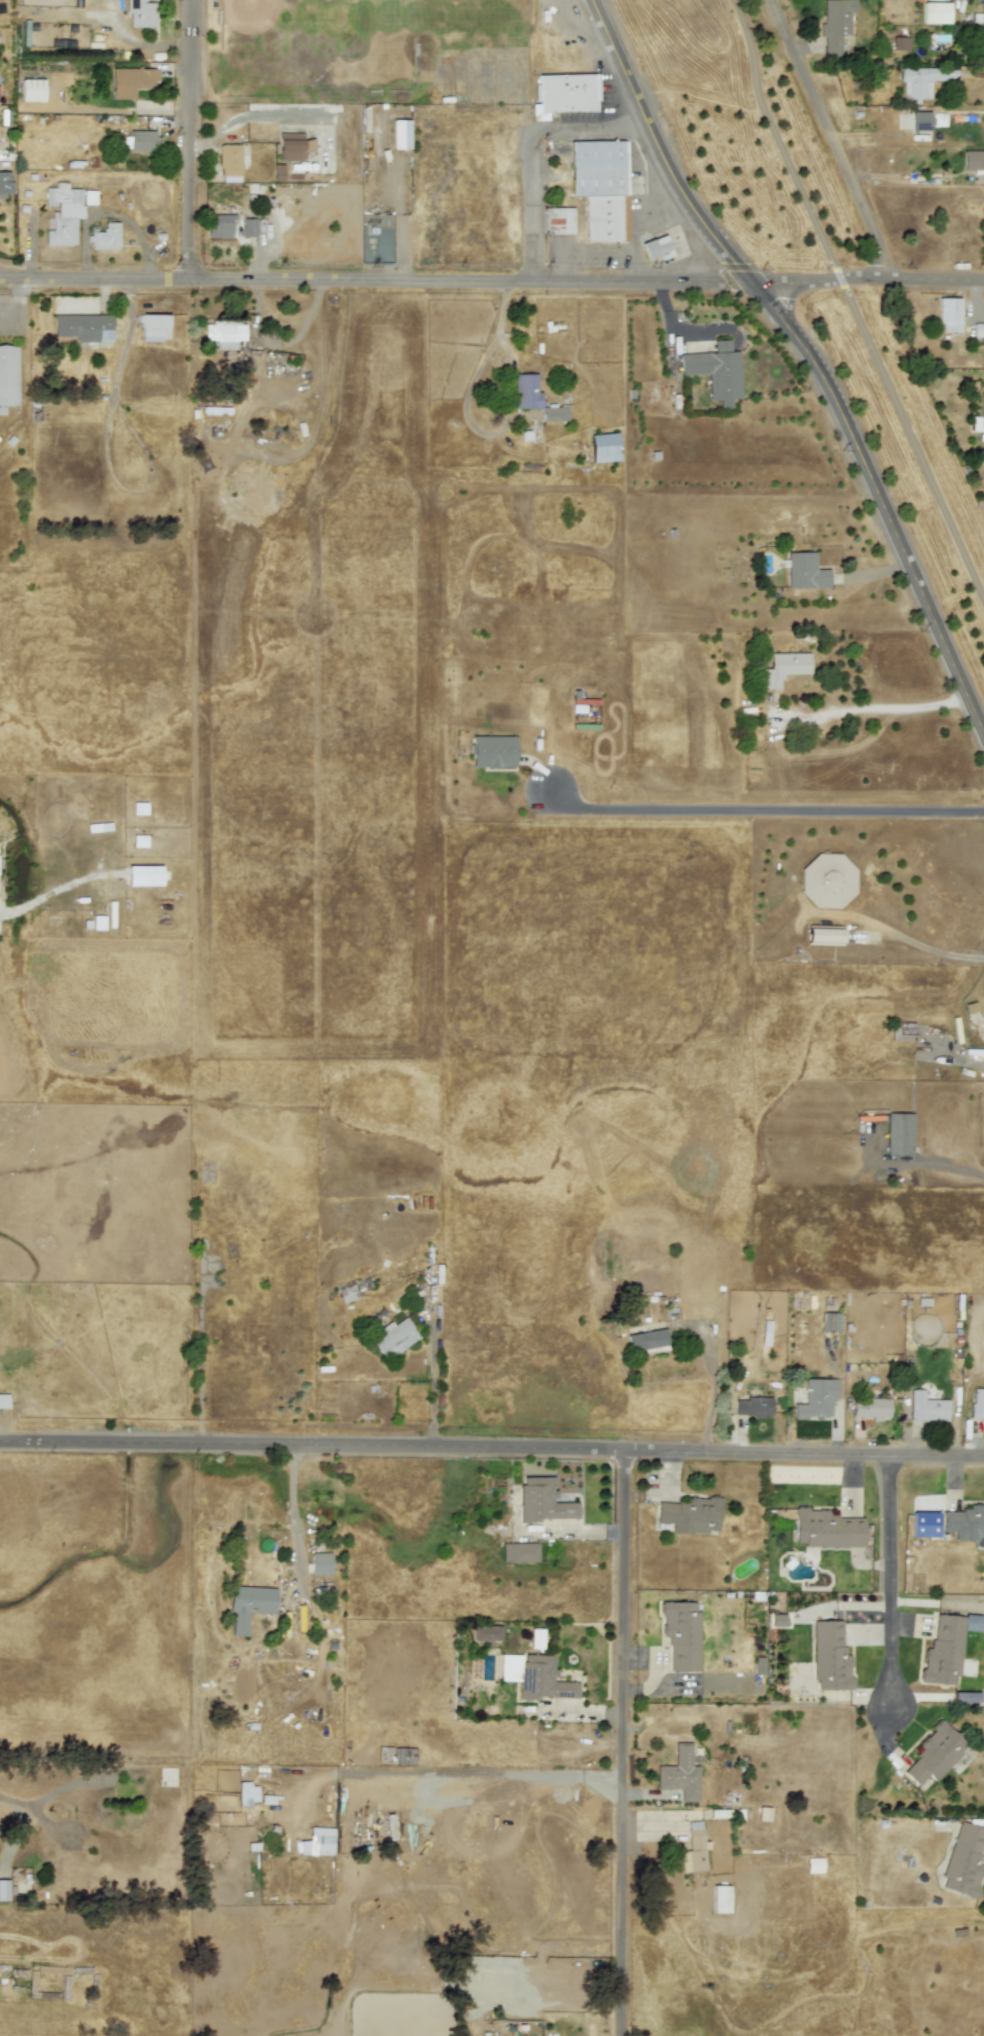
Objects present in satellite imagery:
building: (982, 11)
building: (139, 12)
building: (935, 12)
building: (835, 24)
building: (983, 39)
building: (900, 43)
building: (923, 80)
building: (132, 81)
building: (31, 89)
building: (565, 94)
road: (253, 116)
building: (922, 121)
road: (567, 129)
road: (642, 129)
road: (620, 132)
building: (388, 134)
building: (400, 134)
building: (141, 140)
road: (192, 141)
road: (833, 143)
building: (293, 146)
road: (639, 147)
road: (660, 150)
building: (229, 159)
building: (974, 161)
building: (278, 171)
building: (5, 183)
building: (600, 187)
road: (649, 188)
building: (90, 197)
road: (532, 209)
building: (62, 213)
building: (559, 220)
building: (219, 224)
building: (248, 226)
building: (657, 247)
road: (594, 251)
road: (559, 268)
road: (629, 268)
road: (96, 282)
road: (588, 285)
road: (14, 302)
road: (850, 303)
building: (948, 314)
building: (84, 327)
building: (154, 327)
building: (978, 330)
building: (224, 334)
building: (715, 371)
building: (8, 376)
building: (526, 391)
building: (554, 414)
building: (979, 415)
building: (604, 447)
road: (878, 502)
building: (805, 571)
building: (784, 668)
road: (869, 706)
building: (492, 751)
road: (765, 805)
building: (139, 842)
building: (144, 875)
building: (827, 880)
building: (823, 935)
road: (926, 947)
road: (976, 1056)
building: (898, 1134)
building: (347, 1293)
building: (829, 1322)
building: (393, 1338)
building: (648, 1339)
road: (712, 1372)
road: (432, 1387)
building: (816, 1399)
building: (3, 1401)
building: (977, 1404)
building: (752, 1406)
building: (926, 1407)
building: (870, 1408)
road: (93, 1449)
road: (586, 1452)
building: (542, 1501)
building: (690, 1515)
building: (965, 1523)
building: (826, 1529)
building: (519, 1552)
building: (320, 1563)
road: (297, 1570)
road: (889, 1585)
building: (248, 1606)
building: (486, 1632)
building: (681, 1634)
building: (946, 1647)
building: (830, 1657)
building: (535, 1676)
building: (983, 1722)
road: (624, 1744)
building: (936, 1754)
building: (681, 1773)
building: (247, 1793)
building: (693, 1849)
building: (3, 1889)
building: (720, 1898)

